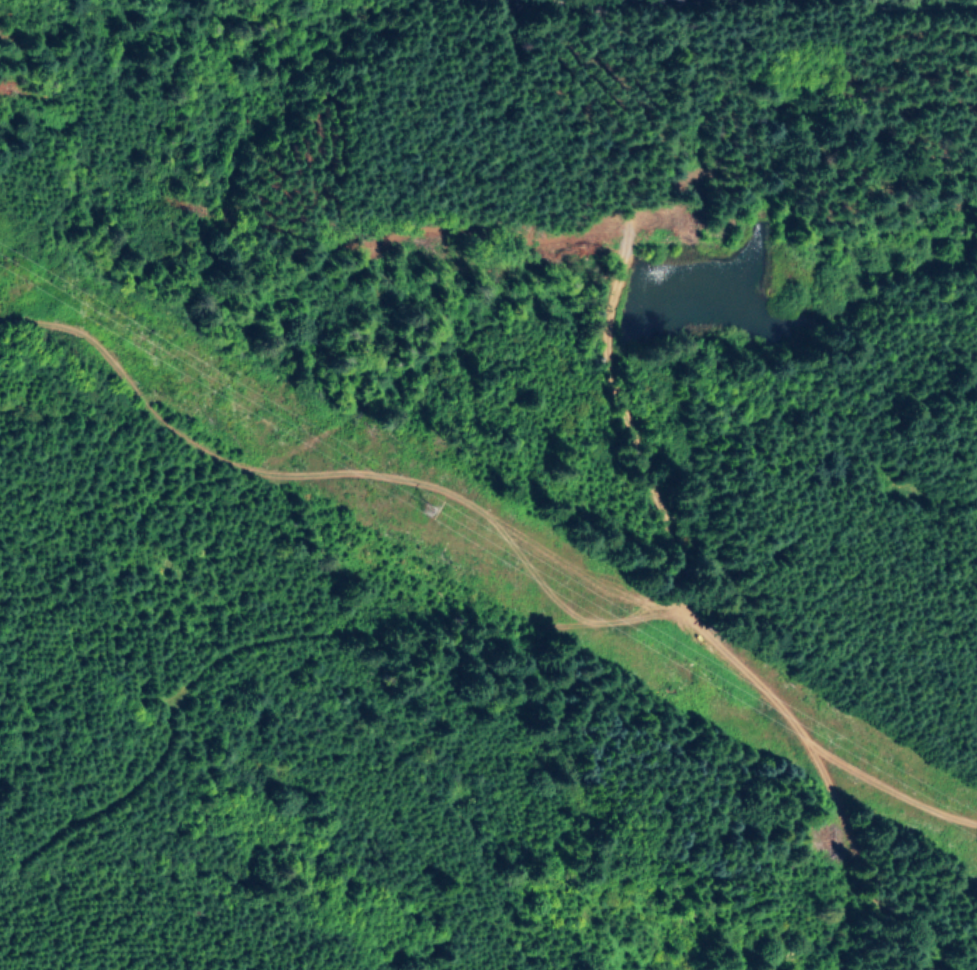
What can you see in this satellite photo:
road: (282, 404)
power tower: (424, 500)
road: (676, 502)
road: (409, 592)
road: (276, 750)

